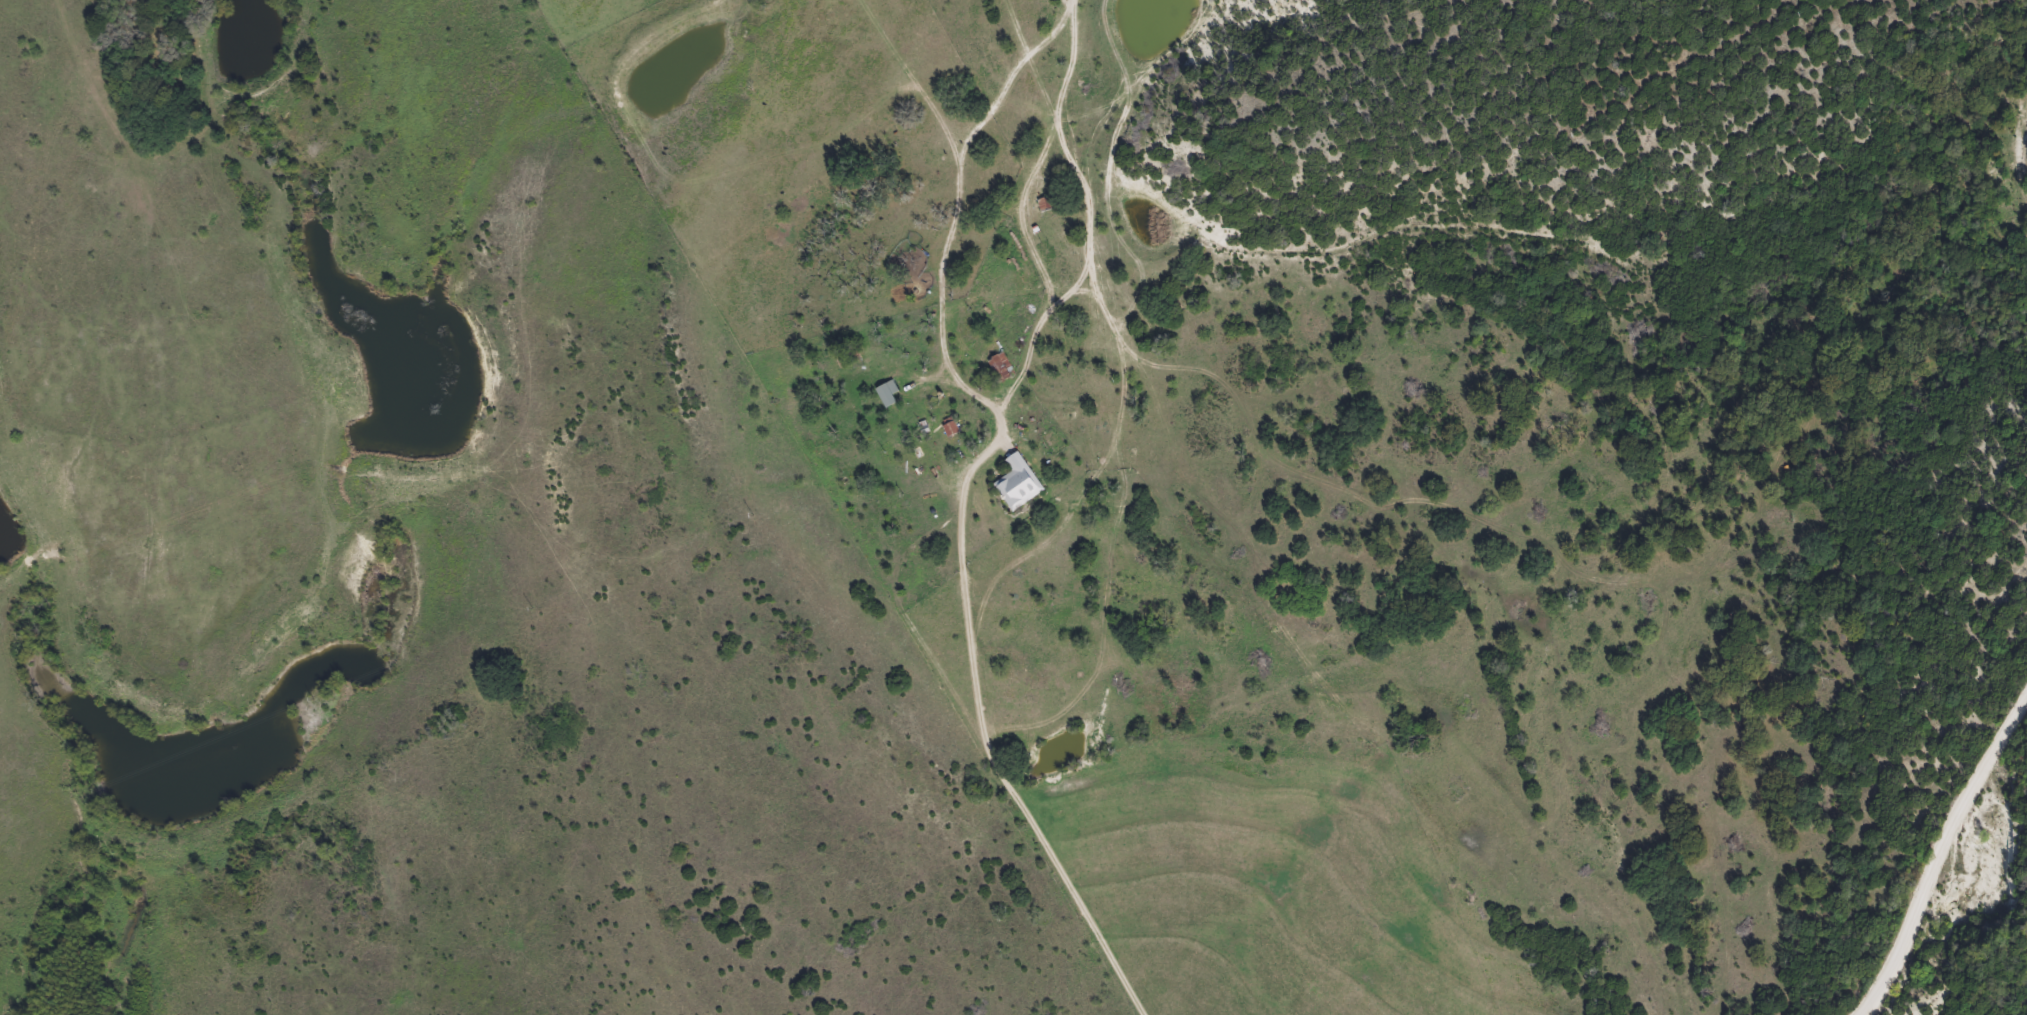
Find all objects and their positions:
building: (1046, 204)
building: (1001, 366)
building: (889, 393)
building: (1019, 483)
road: (1940, 851)

